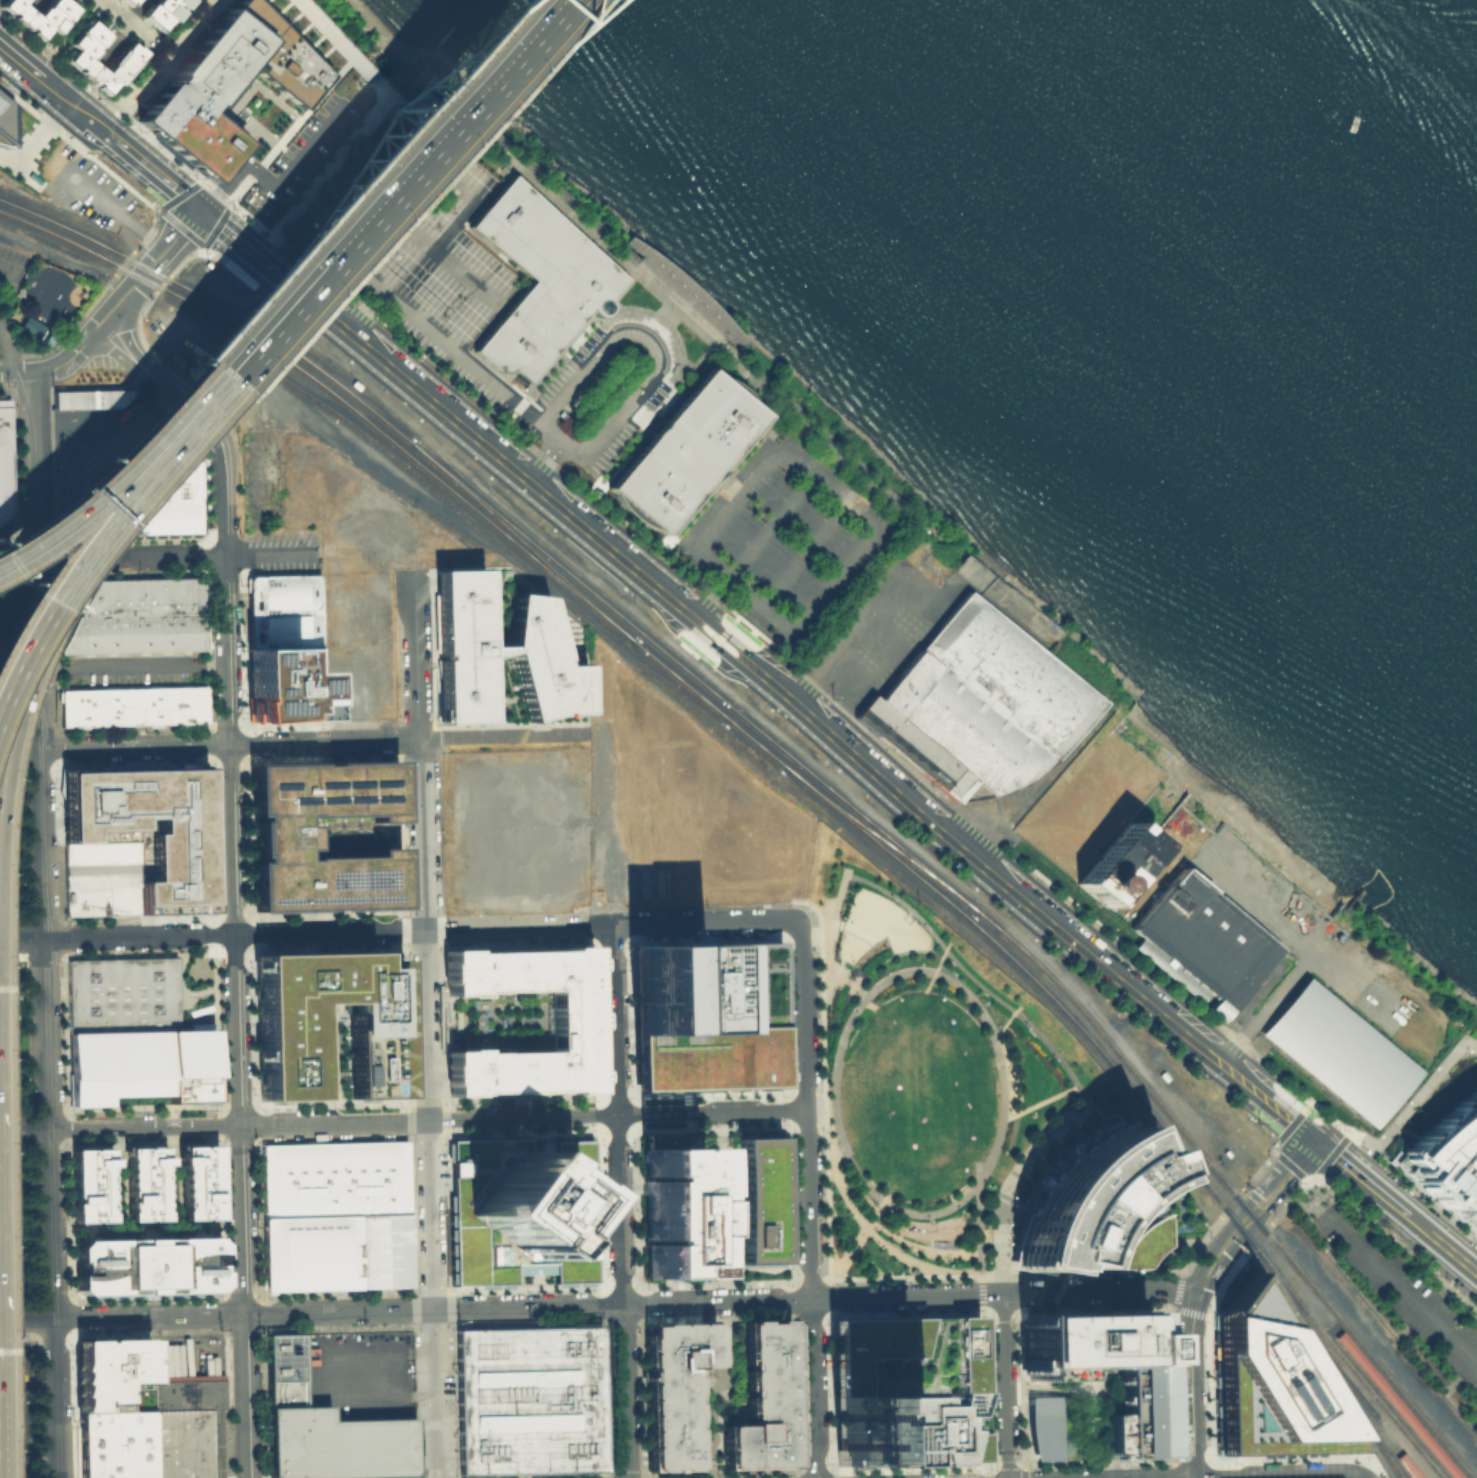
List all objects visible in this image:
building: (127, 1)
building: (161, 10)
building: (39, 14)
road: (126, 19)
building: (129, 53)
road: (161, 66)
building: (231, 84)
road: (71, 101)
building: (2, 119)
road: (483, 152)
road: (173, 183)
road: (274, 183)
traffic signals: (203, 208)
river: (1274, 214)
railway: (19, 219)
road: (339, 221)
road: (342, 223)
road: (379, 226)
railway: (79, 234)
road: (183, 243)
road: (139, 267)
road: (10, 271)
road: (478, 274)
parking lot: (10, 277)
building: (536, 278)
road: (290, 281)
park: (44, 302)
road: (125, 308)
road: (669, 316)
road: (655, 323)
road: (690, 325)
road: (641, 340)
road: (128, 344)
road: (10, 348)
railway: (288, 348)
road: (114, 353)
road: (65, 362)
road: (15, 371)
building: (91, 400)
railway: (353, 410)
road: (556, 443)
road: (218, 446)
building: (683, 450)
building: (4, 458)
road: (540, 459)
road: (34, 465)
building: (185, 482)
road: (710, 489)
road: (76, 503)
road: (78, 509)
building: (171, 515)
road: (92, 517)
railway: (522, 542)
railway: (500, 545)
road: (273, 555)
road: (130, 558)
road: (18, 561)
road: (61, 571)
building: (144, 597)
road: (884, 598)
road: (934, 601)
building: (286, 610)
road: (18, 627)
building: (134, 633)
road: (717, 637)
building: (492, 651)
road: (37, 653)
road: (419, 655)
parking lot: (5, 658)
road: (131, 666)
railway: (691, 675)
parking lot: (135, 678)
building: (288, 683)
building: (987, 697)
road: (845, 698)
building: (132, 705)
railway: (709, 705)
road: (832, 714)
road: (504, 736)
road: (325, 741)
road: (846, 744)
road: (133, 745)
road: (18, 747)
building: (912, 748)
parking lot: (6, 787)
building: (145, 828)
road: (423, 834)
building: (278, 836)
railway: (878, 837)
building: (5, 859)
parking lot: (7, 860)
building: (1113, 862)
building: (100, 878)
water tower: (1098, 882)
road: (704, 921)
road: (519, 927)
road: (234, 930)
road: (814, 934)
road: (21, 938)
building: (1203, 939)
road: (941, 954)
road: (834, 974)
railway: (1026, 975)
road: (930, 977)
road: (1400, 978)
road: (852, 983)
building: (121, 993)
parking lot: (10, 1000)
road: (1272, 1000)
road: (857, 1003)
road: (1007, 1005)
road: (1011, 1012)
road: (236, 1017)
building: (704, 1017)
building: (572, 1021)
building: (479, 1022)
building: (502, 1022)
road: (427, 1024)
road: (999, 1028)
road: (45, 1032)
road: (1471, 1045)
railway: (1116, 1051)
building: (1341, 1054)
building: (287, 1055)
building: (139, 1066)
parking lot: (10, 1072)
park: (918, 1077)
road: (1038, 1101)
road: (1412, 1104)
road: (827, 1108)
road: (711, 1112)
road: (523, 1117)
road: (786, 1119)
road: (334, 1121)
road: (639, 1123)
road: (143, 1125)
road: (23, 1127)
road: (805, 1128)
road: (712, 1129)
road: (628, 1131)
road: (825, 1137)
road: (1373, 1137)
traffic signals: (1313, 1138)
road: (832, 1141)
road: (1344, 1145)
building: (1447, 1155)
road: (1359, 1176)
building: (333, 1178)
building: (198, 1182)
building: (145, 1183)
building: (89, 1184)
road: (807, 1199)
building: (757, 1200)
road: (618, 1201)
building: (670, 1204)
road: (721, 1205)
road: (787, 1205)
road: (1245, 1207)
road: (640, 1208)
building: (1095, 1209)
building: (523, 1210)
road: (431, 1213)
road: (1259, 1215)
road: (980, 1218)
parking lot: (12, 1223)
railway: (1265, 1231)
road: (873, 1235)
railway: (1245, 1235)
road: (1388, 1235)
road: (855, 1238)
road: (853, 1243)
road: (1442, 1243)
road: (733, 1244)
road: (921, 1248)
building: (382, 1249)
building: (310, 1252)
building: (146, 1265)
road: (757, 1265)
road: (1436, 1276)
road: (907, 1277)
railway: (1275, 1280)
road: (813, 1281)
road: (718, 1284)
road: (983, 1285)
road: (631, 1286)
road: (1399, 1289)
parking lot: (1403, 1292)
road: (816, 1298)
road: (833, 1298)
road: (794, 1299)
road: (1094, 1302)
road: (642, 1303)
road: (338, 1310)
road: (147, 1316)
road: (814, 1316)
road: (25, 1319)
road: (718, 1319)
road: (632, 1321)
railway: (1340, 1331)
road: (1095, 1337)
road: (1207, 1344)
railway: (1349, 1364)
railway: (1378, 1366)
building: (112, 1373)
railway: (1341, 1382)
road: (1191, 1383)
building: (1269, 1384)
road: (1006, 1386)
road: (714, 1388)
building: (908, 1389)
building: (186, 1391)
building: (673, 1391)
road: (1061, 1391)
road: (434, 1392)
road: (796, 1393)
railway: (1361, 1394)
building: (1142, 1395)
road: (644, 1397)
road: (53, 1398)
building: (528, 1400)
building: (764, 1401)
road: (1092, 1404)
railway: (13, 1407)
railway: (25, 1412)
building: (324, 1428)
building: (1050, 1428)
building: (180, 1443)
building: (113, 1444)
railway: (1402, 1452)
road: (710, 1467)
railway: (1395, 1467)
railway: (1396, 1467)
road: (1093, 1468)
road: (817, 1469)
road: (722, 1472)
road: (635, 1474)
road: (695, 1475)
road: (646, 1476)
road: (1274, 1477)

